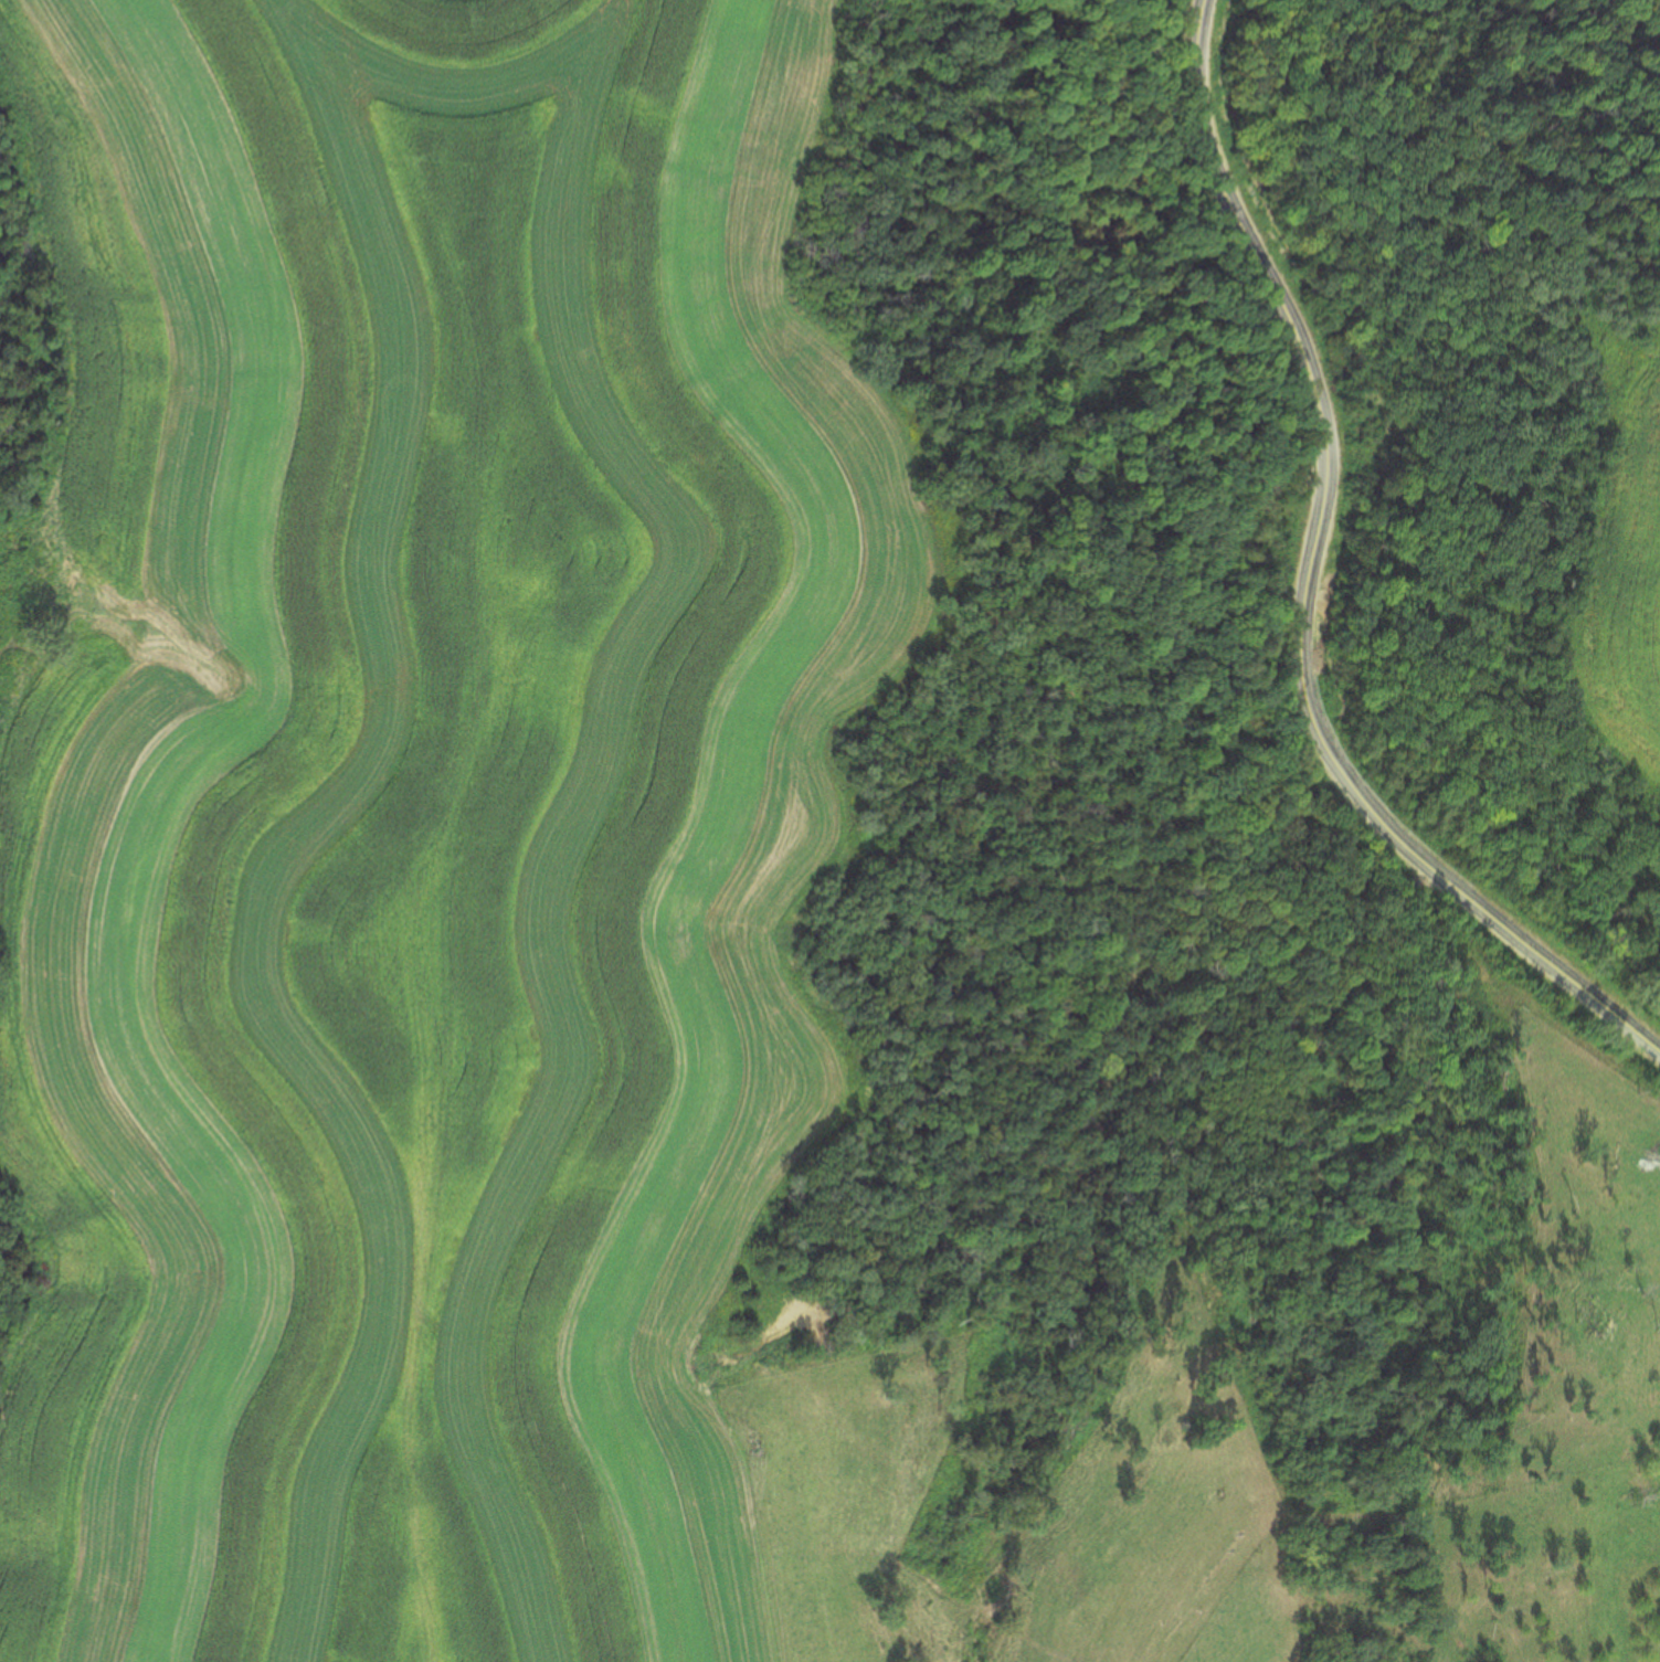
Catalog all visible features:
road: (1302, 591)

